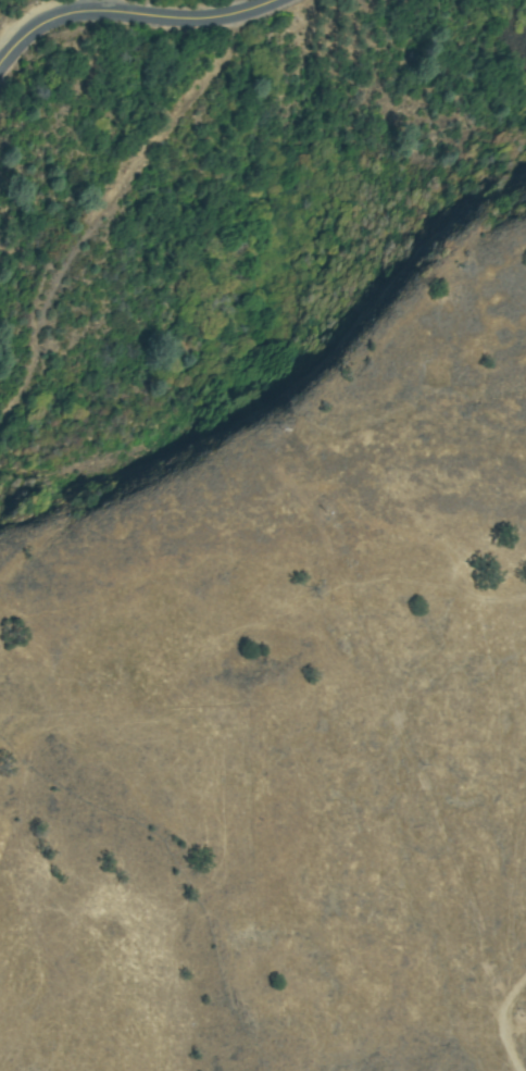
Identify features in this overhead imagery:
road: (148, 32)

